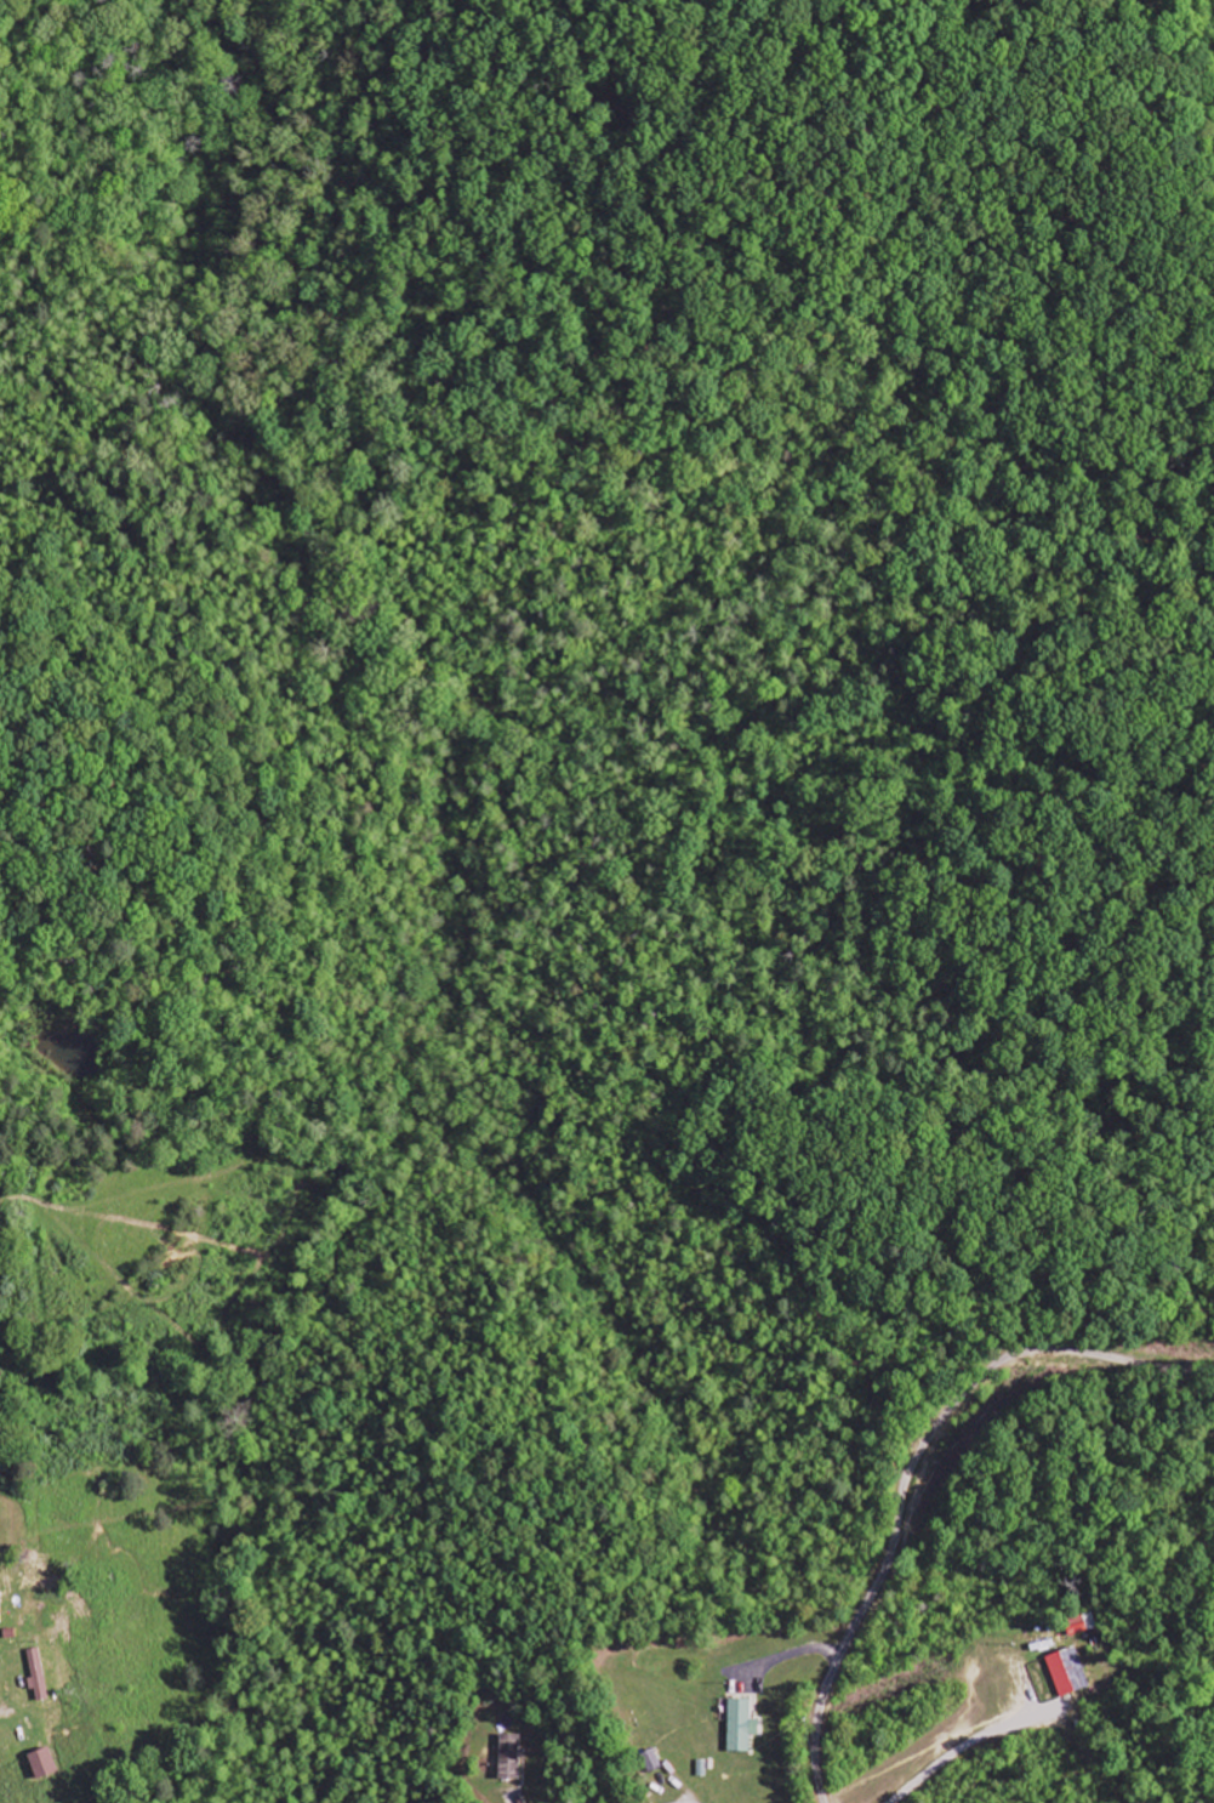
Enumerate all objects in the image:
road: (599, 730)
road: (910, 1464)
building: (0, 1615)
building: (1067, 1673)
building: (38, 1676)
building: (740, 1727)
building: (509, 1758)
building: (39, 1765)

